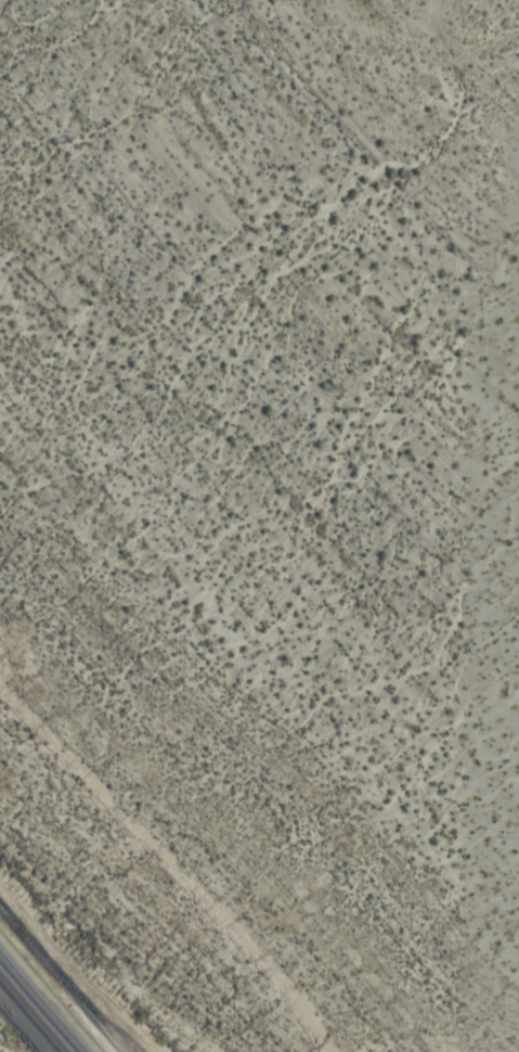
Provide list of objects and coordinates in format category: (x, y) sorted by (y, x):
railway: (38, 1006)
railway: (30, 1016)

